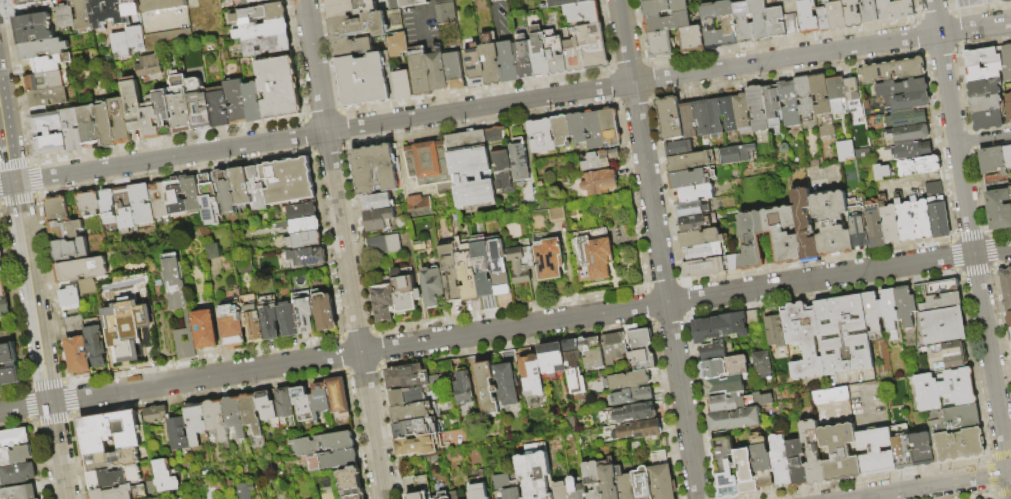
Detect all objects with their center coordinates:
building: (642, 0)
building: (258, 1)
parking lot: (893, 1)
building: (989, 1)
building: (1006, 1)
building: (564, 2)
building: (240, 3)
building: (405, 3)
building: (771, 3)
building: (821, 3)
parking lot: (966, 3)
building: (161, 5)
building: (32, 7)
building: (349, 7)
building: (662, 7)
building: (129, 8)
building: (893, 9)
road: (421, 10)
building: (868, 11)
building: (104, 12)
building: (582, 12)
building: (445, 13)
building: (260, 14)
building: (851, 14)
building: (81, 15)
building: (215, 15)
building: (65, 16)
building: (835, 16)
road: (936, 16)
building: (807, 17)
building: (758, 19)
building: (821, 19)
building: (741, 21)
building: (666, 22)
building: (774, 22)
building: (726, 23)
building: (790, 24)
building: (357, 26)
building: (710, 26)
building: (33, 28)
building: (261, 30)
building: (134, 38)
building: (690, 39)
building: (658, 44)
building: (118, 45)
building: (266, 45)
building: (396, 45)
building: (352, 47)
building: (42, 49)
building: (586, 49)
building: (539, 52)
building: (555, 53)
building: (524, 57)
building: (982, 59)
building: (489, 60)
building: (1008, 62)
building: (49, 63)
building: (507, 63)
building: (147, 65)
building: (473, 65)
building: (436, 70)
building: (453, 70)
building: (891, 71)
building: (419, 72)
building: (986, 74)
building: (365, 79)
building: (43, 81)
building: (402, 84)
building: (278, 88)
building: (851, 88)
building: (901, 88)
building: (985, 90)
building: (820, 95)
building: (836, 95)
building: (805, 96)
building: (47, 97)
building: (235, 102)
road: (505, 102)
building: (908, 102)
building: (253, 103)
building: (179, 104)
building: (789, 104)
building: (132, 105)
building: (198, 105)
building: (987, 106)
building: (218, 107)
building: (1008, 107)
building: (757, 108)
building: (855, 108)
building: (773, 110)
building: (38, 111)
building: (742, 112)
building: (163, 113)
building: (729, 113)
building: (708, 117)
building: (150, 118)
building: (669, 118)
building: (687, 119)
building: (904, 119)
building: (119, 121)
building: (990, 122)
building: (104, 125)
building: (88, 126)
building: (602, 128)
building: (576, 129)
building: (72, 131)
building: (560, 131)
building: (910, 133)
building: (48, 134)
building: (493, 134)
building: (540, 136)
road: (983, 138)
building: (844, 150)
building: (912, 151)
building: (736, 154)
building: (686, 156)
building: (1008, 157)
building: (599, 159)
building: (518, 160)
building: (428, 163)
building: (994, 163)
building: (918, 166)
building: (469, 168)
building: (374, 169)
building: (502, 172)
building: (881, 172)
building: (691, 177)
building: (288, 181)
building: (597, 183)
building: (998, 184)
building: (240, 186)
building: (256, 188)
building: (1010, 191)
building: (224, 192)
building: (695, 193)
building: (189, 194)
building: (173, 196)
building: (158, 199)
building: (208, 200)
building: (376, 201)
building: (87, 204)
building: (140, 204)
building: (415, 206)
building: (107, 207)
building: (123, 209)
building: (691, 209)
building: (937, 210)
building: (1000, 210)
building: (299, 211)
building: (555, 215)
building: (921, 218)
building: (61, 219)
building: (378, 219)
building: (906, 221)
building: (696, 222)
building: (857, 223)
building: (890, 223)
building: (832, 224)
building: (874, 224)
building: (299, 225)
building: (804, 226)
building: (702, 237)
building: (304, 240)
building: (393, 244)
building: (785, 246)
building: (70, 249)
road: (344, 249)
road: (659, 249)
building: (211, 250)
building: (704, 251)
road: (973, 253)
building: (592, 254)
building: (0, 256)
building: (306, 257)
building: (547, 257)
building: (521, 262)
building: (497, 266)
building: (709, 267)
building: (80, 269)
building: (483, 269)
building: (1, 270)
building: (450, 271)
building: (467, 273)
building: (431, 287)
building: (2, 288)
building: (935, 288)
building: (403, 289)
building: (1006, 290)
road: (32, 296)
building: (70, 299)
building: (383, 301)
building: (941, 302)
building: (178, 304)
building: (4, 306)
building: (904, 306)
building: (888, 309)
building: (303, 312)
building: (324, 312)
building: (871, 312)
building: (288, 320)
building: (1009, 321)
building: (269, 322)
building: (231, 323)
building: (252, 323)
building: (722, 325)
building: (942, 326)
building: (126, 328)
road: (505, 328)
building: (203, 329)
building: (1010, 330)
building: (773, 331)
building: (842, 334)
building: (1010, 336)
building: (802, 340)
building: (96, 346)
building: (613, 347)
building: (640, 350)
building: (713, 351)
building: (590, 352)
building: (77, 356)
building: (946, 356)
building: (551, 358)
building: (8, 364)
building: (761, 364)
building: (572, 366)
building: (723, 367)
building: (530, 376)
building: (407, 377)
building: (626, 380)
building: (505, 384)
building: (724, 385)
building: (462, 388)
building: (485, 389)
building: (944, 391)
building: (407, 396)
building: (630, 396)
building: (863, 397)
building: (336, 398)
building: (760, 400)
building: (318, 401)
building: (831, 401)
building: (283, 403)
building: (725, 403)
building: (301, 404)
building: (265, 406)
building: (249, 413)
building: (409, 413)
building: (630, 413)
building: (154, 415)
building: (233, 416)
building: (215, 419)
building: (733, 419)
building: (957, 419)
building: (195, 422)
building: (409, 429)
building: (637, 430)
building: (109, 432)
building: (177, 433)
building: (933, 434)
building: (14, 438)
building: (322, 444)
building: (415, 445)
building: (958, 446)
building: (900, 448)
building: (921, 450)
building: (874, 452)
building: (811, 454)
building: (838, 454)
building: (16, 455)
building: (110, 460)
building: (779, 460)
building: (332, 461)
building: (795, 463)
building: (761, 466)
building: (723, 468)
building: (534, 472)
road: (1010, 472)
building: (744, 473)
building: (17, 474)
building: (164, 476)
building: (113, 478)
building: (591, 479)
road: (1010, 479)
building: (608, 482)
building: (349, 483)
building: (641, 483)
building: (661, 483)
building: (623, 484)
road: (929, 486)
building: (420, 488)
building: (575, 489)
building: (243, 490)
building: (559, 490)
building: (478, 491)
building: (18, 492)
building: (111, 493)
building: (511, 494)
building: (453, 495)
building: (441, 496)
building: (39, 498)

